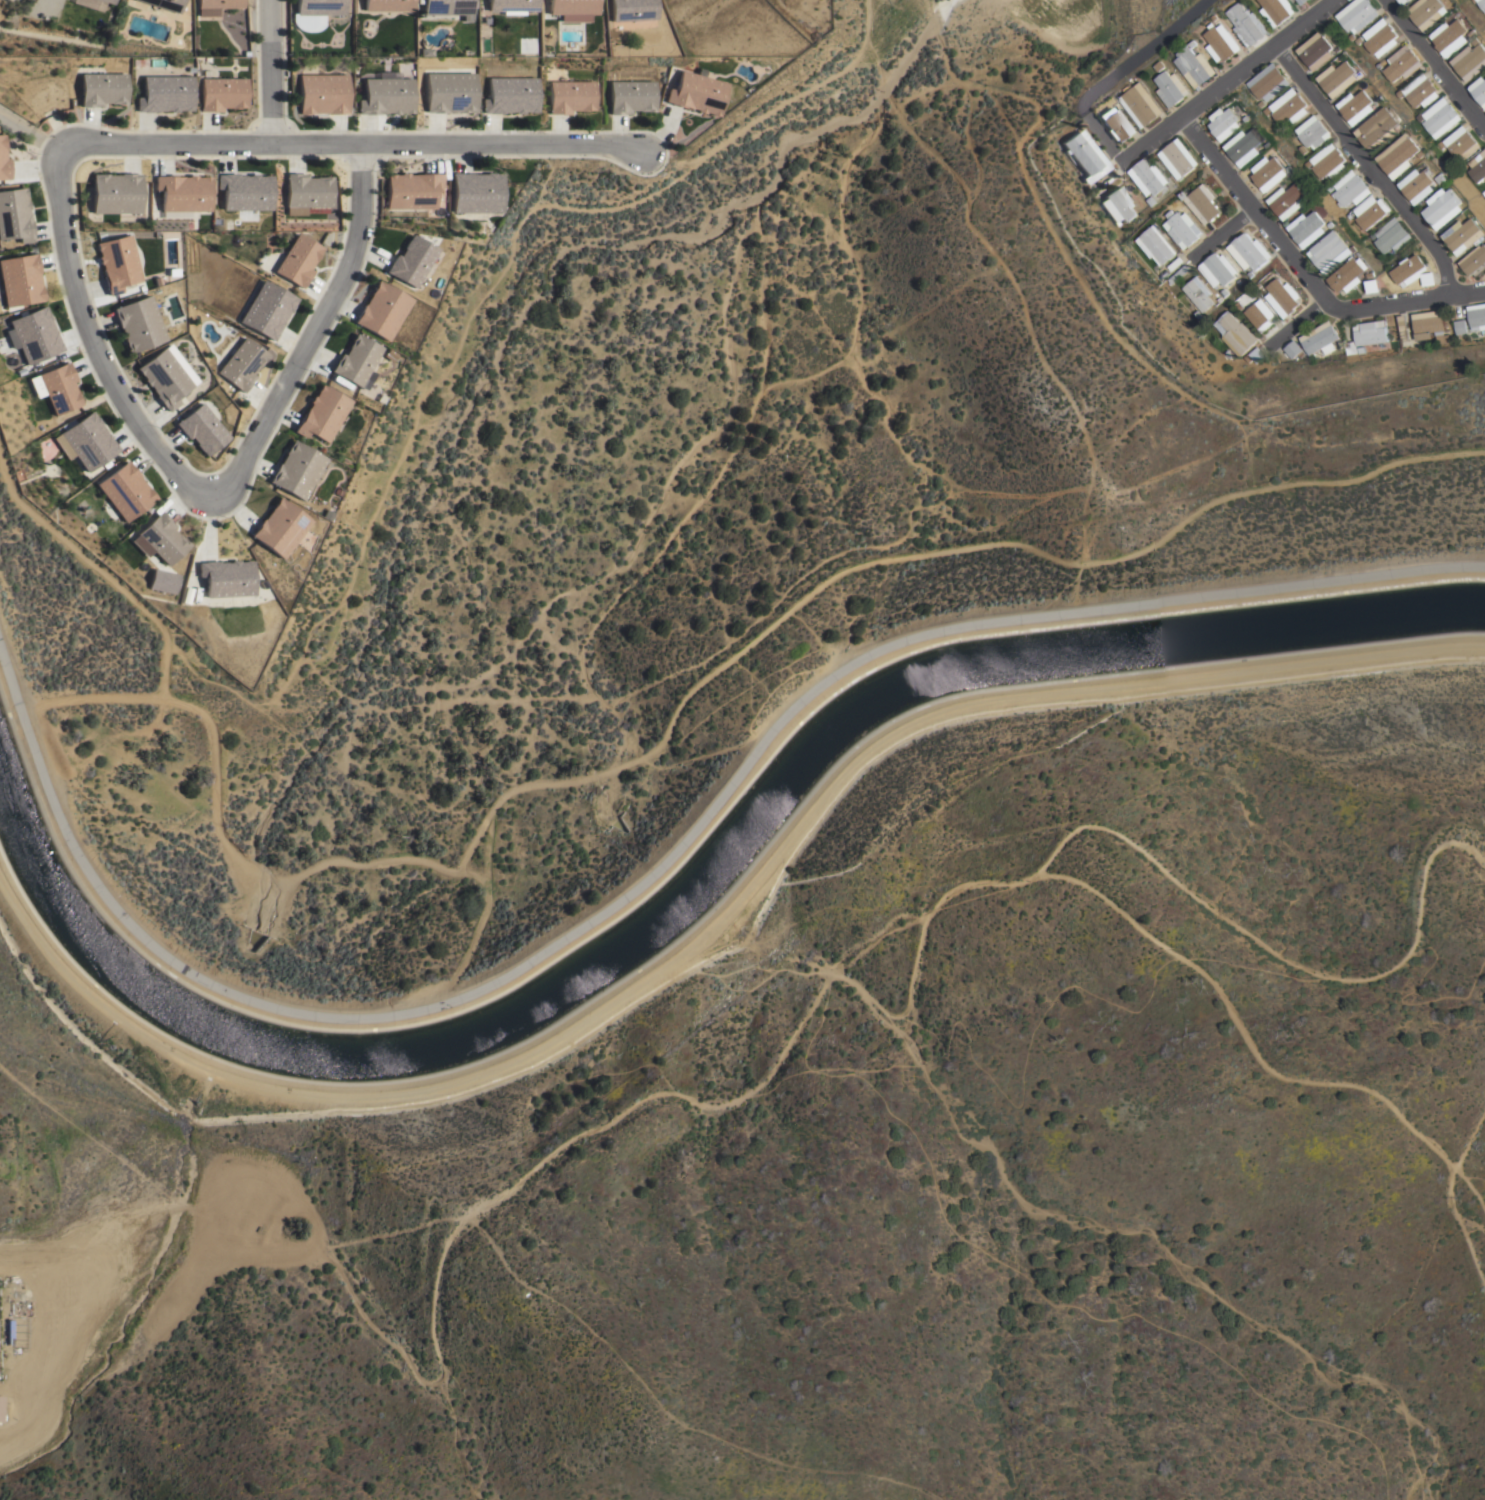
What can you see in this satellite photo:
building: (109, 0)
building: (1399, 0)
building: (1404, 1)
building: (1302, 2)
building: (217, 3)
building: (1482, 3)
building: (386, 4)
building: (161, 5)
building: (511, 5)
building: (445, 6)
building: (572, 8)
building: (631, 9)
building: (1278, 9)
building: (1426, 11)
building: (313, 12)
building: (1356, 13)
building: (1214, 15)
building: (1248, 23)
building: (1473, 31)
building: (1450, 35)
building: (1379, 36)
building: (1477, 39)
building: (1221, 41)
building: (1315, 49)
building: (1470, 59)
building: (1386, 61)
building: (1402, 62)
building: (1194, 63)
building: (1159, 64)
road: (1435, 64)
road: (269, 71)
building: (1338, 77)
building: (1269, 81)
road: (1226, 84)
building: (1170, 86)
building: (102, 88)
building: (1419, 89)
building: (1479, 89)
building: (448, 91)
building: (220, 92)
building: (696, 92)
building: (163, 93)
building: (321, 93)
building: (509, 94)
building: (385, 95)
building: (569, 95)
building: (630, 95)
building: (1381, 98)
building: (1140, 103)
building: (1261, 103)
building: (1289, 105)
building: (1356, 105)
building: (1267, 110)
building: (1439, 115)
building: (1248, 117)
road: (32, 121)
building: (1226, 121)
building: (1117, 122)
building: (1379, 128)
building: (1312, 131)
building: (1290, 136)
road: (355, 143)
building: (1460, 143)
building: (1246, 145)
building: (1422, 152)
building: (1085, 153)
building: (1399, 154)
building: (1178, 157)
building: (3, 159)
building: (1329, 160)
building: (1308, 162)
building: (1477, 165)
building: (1291, 167)
road: (1369, 168)
building: (1270, 171)
building: (1148, 177)
building: (1443, 178)
building: (1418, 183)
building: (1092, 185)
building: (1352, 186)
building: (1329, 187)
building: (411, 189)
building: (244, 190)
building: (306, 190)
building: (116, 192)
building: (182, 192)
building: (474, 192)
building: (1484, 192)
building: (1289, 199)
building: (1151, 200)
building: (1118, 203)
building: (1202, 204)
building: (1443, 206)
building: (1371, 210)
building: (14, 214)
road: (1259, 215)
building: (1332, 223)
building: (1183, 227)
building: (1308, 227)
road: (1221, 234)
building: (1393, 234)
building: (1464, 234)
building: (1155, 244)
building: (1332, 250)
building: (1248, 251)
building: (296, 260)
building: (409, 260)
building: (1474, 261)
building: (116, 262)
building: (1217, 269)
building: (1411, 269)
building: (1349, 273)
building: (1429, 277)
building: (20, 279)
building: (1260, 284)
building: (1374, 285)
building: (1197, 292)
building: (1223, 292)
building: (1283, 296)
road: (1410, 302)
building: (1240, 306)
building: (266, 309)
building: (380, 310)
building: (1196, 313)
building: (1477, 315)
building: (1262, 317)
road: (1295, 322)
building: (137, 323)
building: (1430, 324)
road: (311, 325)
building: (1460, 326)
building: (1403, 330)
building: (1234, 332)
building: (1371, 332)
building: (34, 334)
building: (1320, 337)
road: (92, 341)
building: (1350, 347)
building: (1292, 348)
building: (1360, 349)
building: (1226, 354)
building: (1254, 355)
building: (354, 359)
building: (240, 363)
building: (162, 377)
building: (36, 385)
building: (59, 387)
building: (320, 413)
building: (200, 428)
building: (88, 440)
building: (296, 469)
building: (124, 490)
building: (279, 527)
building: (161, 537)
building: (226, 577)
building: (162, 581)
road: (667, 856)
road: (1086, 878)
road: (718, 917)
building: (8, 1331)
building: (0, 1406)

